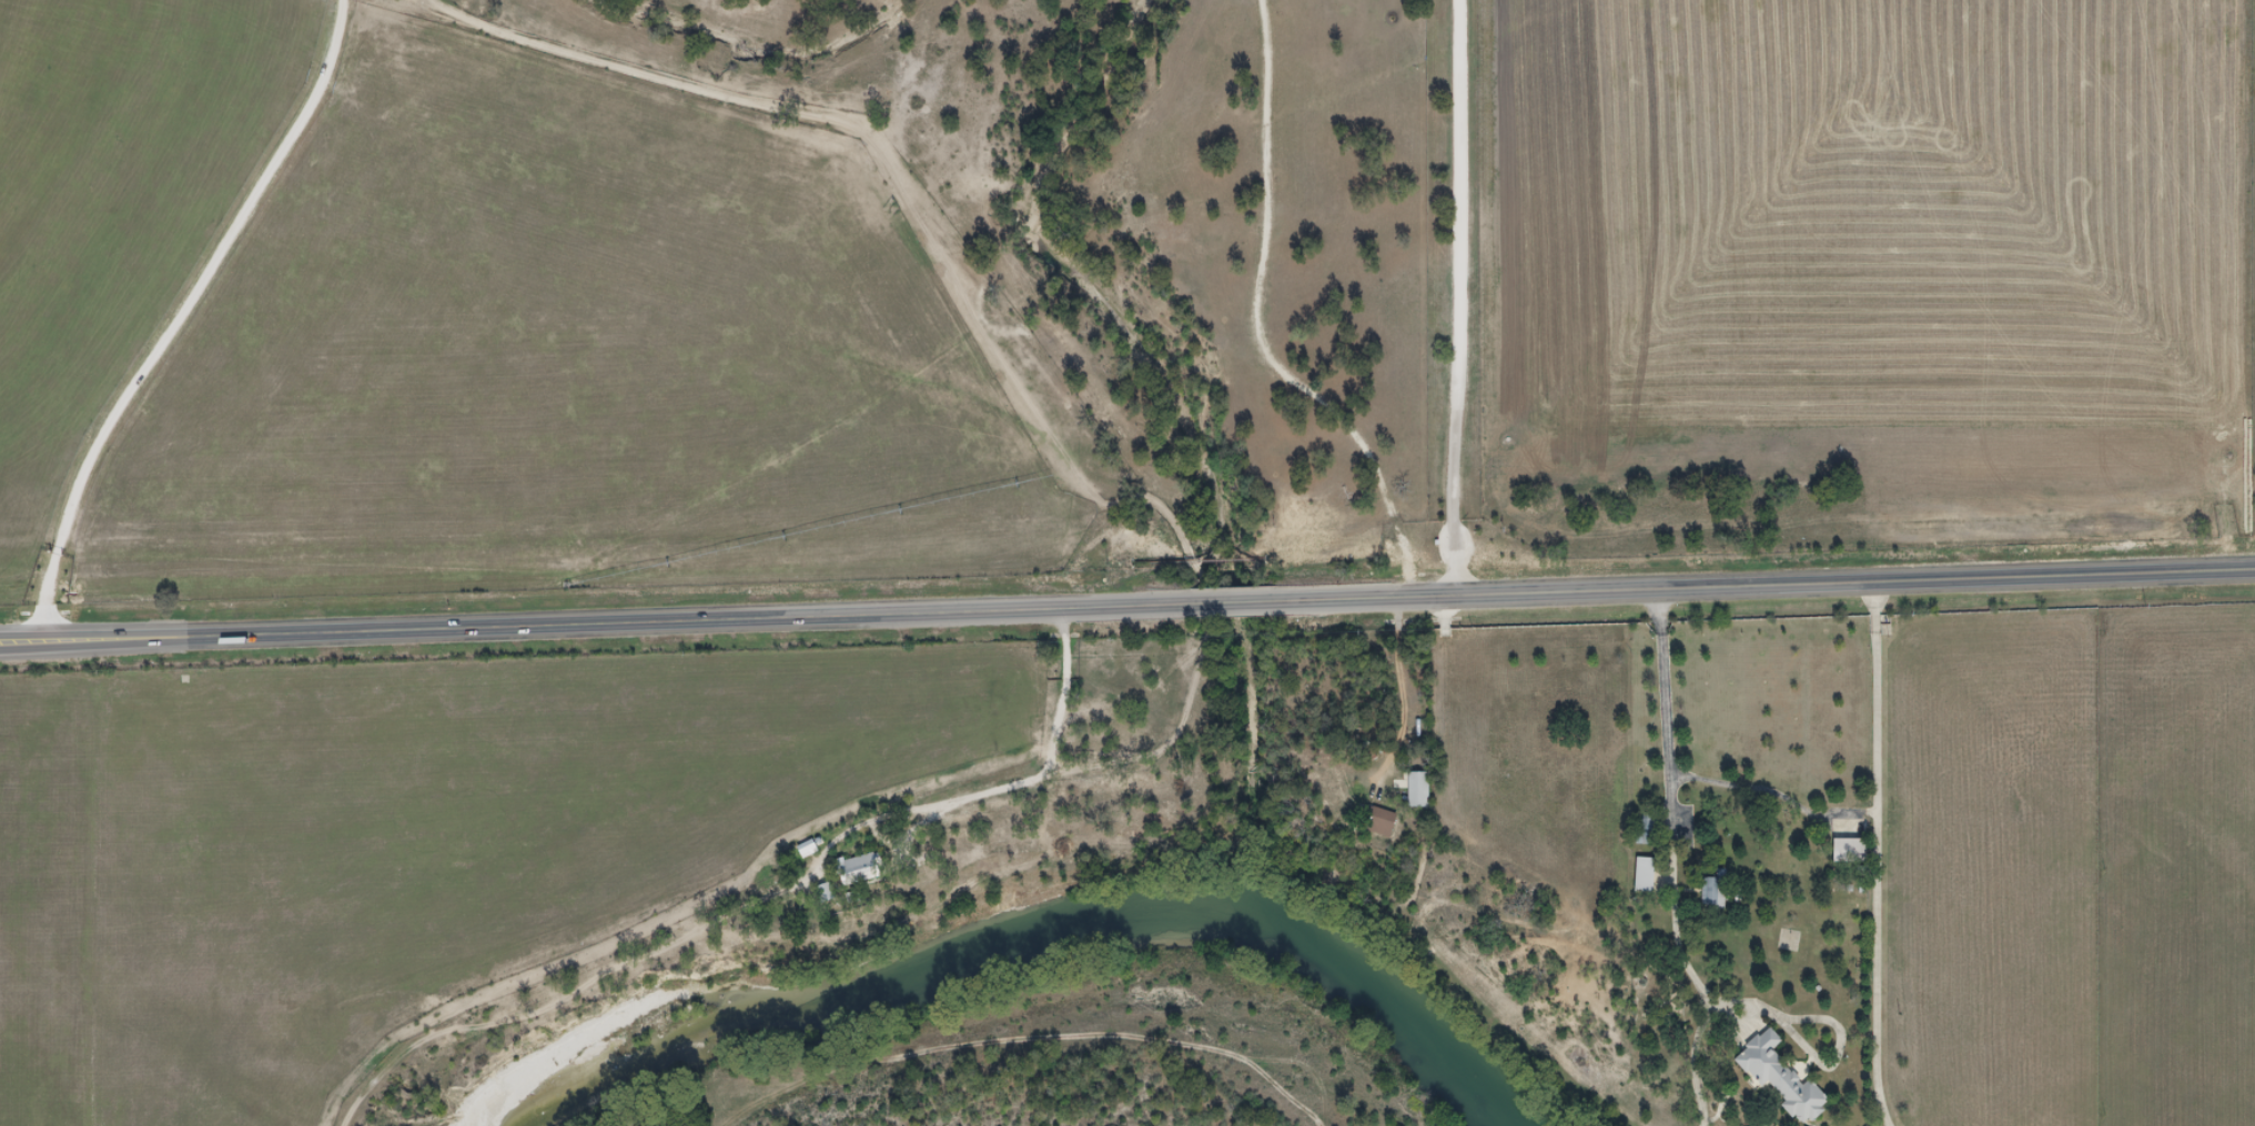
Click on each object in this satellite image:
road: (1452, 298)
road: (179, 315)
road: (1514, 594)
road: (385, 627)
building: (1419, 789)
road: (1671, 793)
building: (1379, 820)
building: (1649, 826)
building: (1851, 850)
building: (860, 869)
building: (1647, 874)
building: (1716, 890)
river: (1071, 950)
building: (1782, 1076)

